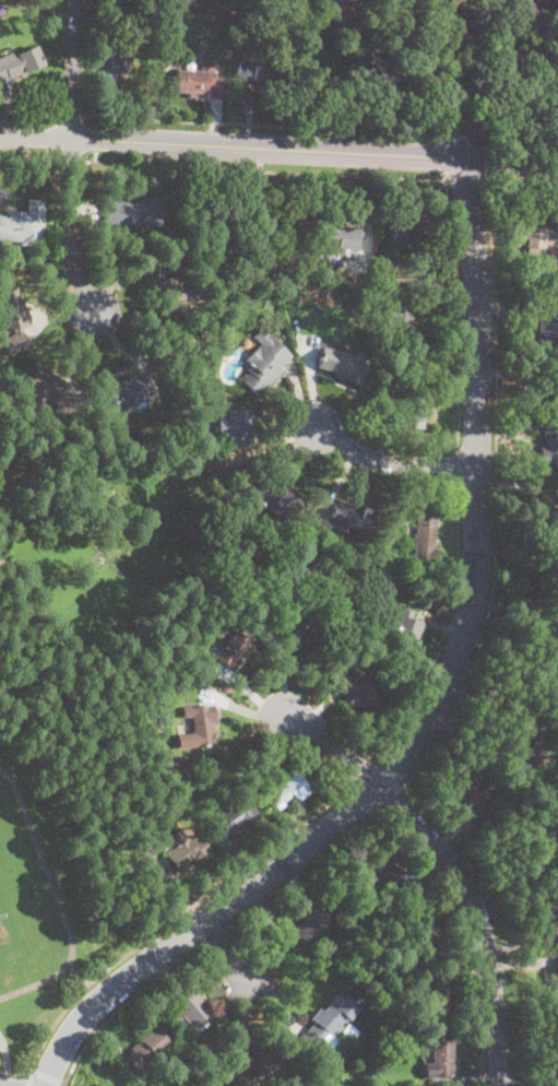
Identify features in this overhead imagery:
building: (344, 0)
building: (526, 10)
building: (227, 44)
building: (525, 52)
building: (117, 56)
building: (20, 62)
road: (75, 69)
building: (260, 71)
building: (503, 73)
road: (448, 79)
building: (199, 82)
road: (31, 113)
road: (73, 115)
road: (265, 125)
road: (460, 134)
road: (440, 139)
road: (512, 142)
road: (231, 145)
road: (29, 158)
road: (442, 158)
road: (486, 160)
road: (70, 161)
road: (510, 161)
road: (265, 169)
road: (466, 178)
road: (520, 180)
building: (129, 212)
building: (23, 223)
building: (286, 225)
road: (70, 226)
building: (404, 231)
building: (337, 237)
building: (536, 237)
building: (384, 270)
building: (250, 284)
building: (352, 290)
building: (289, 291)
building: (171, 294)
building: (11, 309)
road: (461, 310)
building: (549, 320)
building: (401, 324)
building: (13, 343)
building: (264, 361)
building: (381, 363)
building: (342, 364)
building: (197, 385)
building: (51, 386)
building: (124, 390)
building: (549, 394)
building: (413, 404)
building: (236, 427)
building: (549, 450)
road: (392, 461)
road: (459, 464)
road: (477, 485)
road: (496, 493)
building: (277, 497)
building: (547, 504)
building: (347, 517)
building: (307, 538)
building: (424, 539)
road: (447, 631)
building: (404, 633)
building: (295, 636)
building: (376, 644)
building: (233, 646)
building: (551, 672)
building: (179, 680)
building: (164, 683)
building: (359, 693)
building: (201, 725)
road: (330, 742)
building: (532, 742)
road: (367, 774)
building: (470, 786)
building: (287, 793)
road: (370, 795)
road: (391, 798)
building: (229, 819)
building: (167, 824)
building: (547, 834)
building: (187, 850)
road: (308, 870)
building: (382, 872)
track: (26, 905)
park: (25, 906)
building: (547, 913)
road: (479, 919)
road: (167, 925)
road: (198, 925)
building: (311, 928)
road: (466, 934)
road: (218, 935)
building: (426, 935)
road: (227, 948)
building: (557, 966)
road: (80, 976)
building: (439, 1002)
road: (124, 1005)
building: (190, 1008)
building: (324, 1026)
building: (348, 1029)
building: (146, 1050)
road: (5, 1052)
building: (440, 1058)
building: (271, 1063)
road: (49, 1077)
road: (28, 1078)

